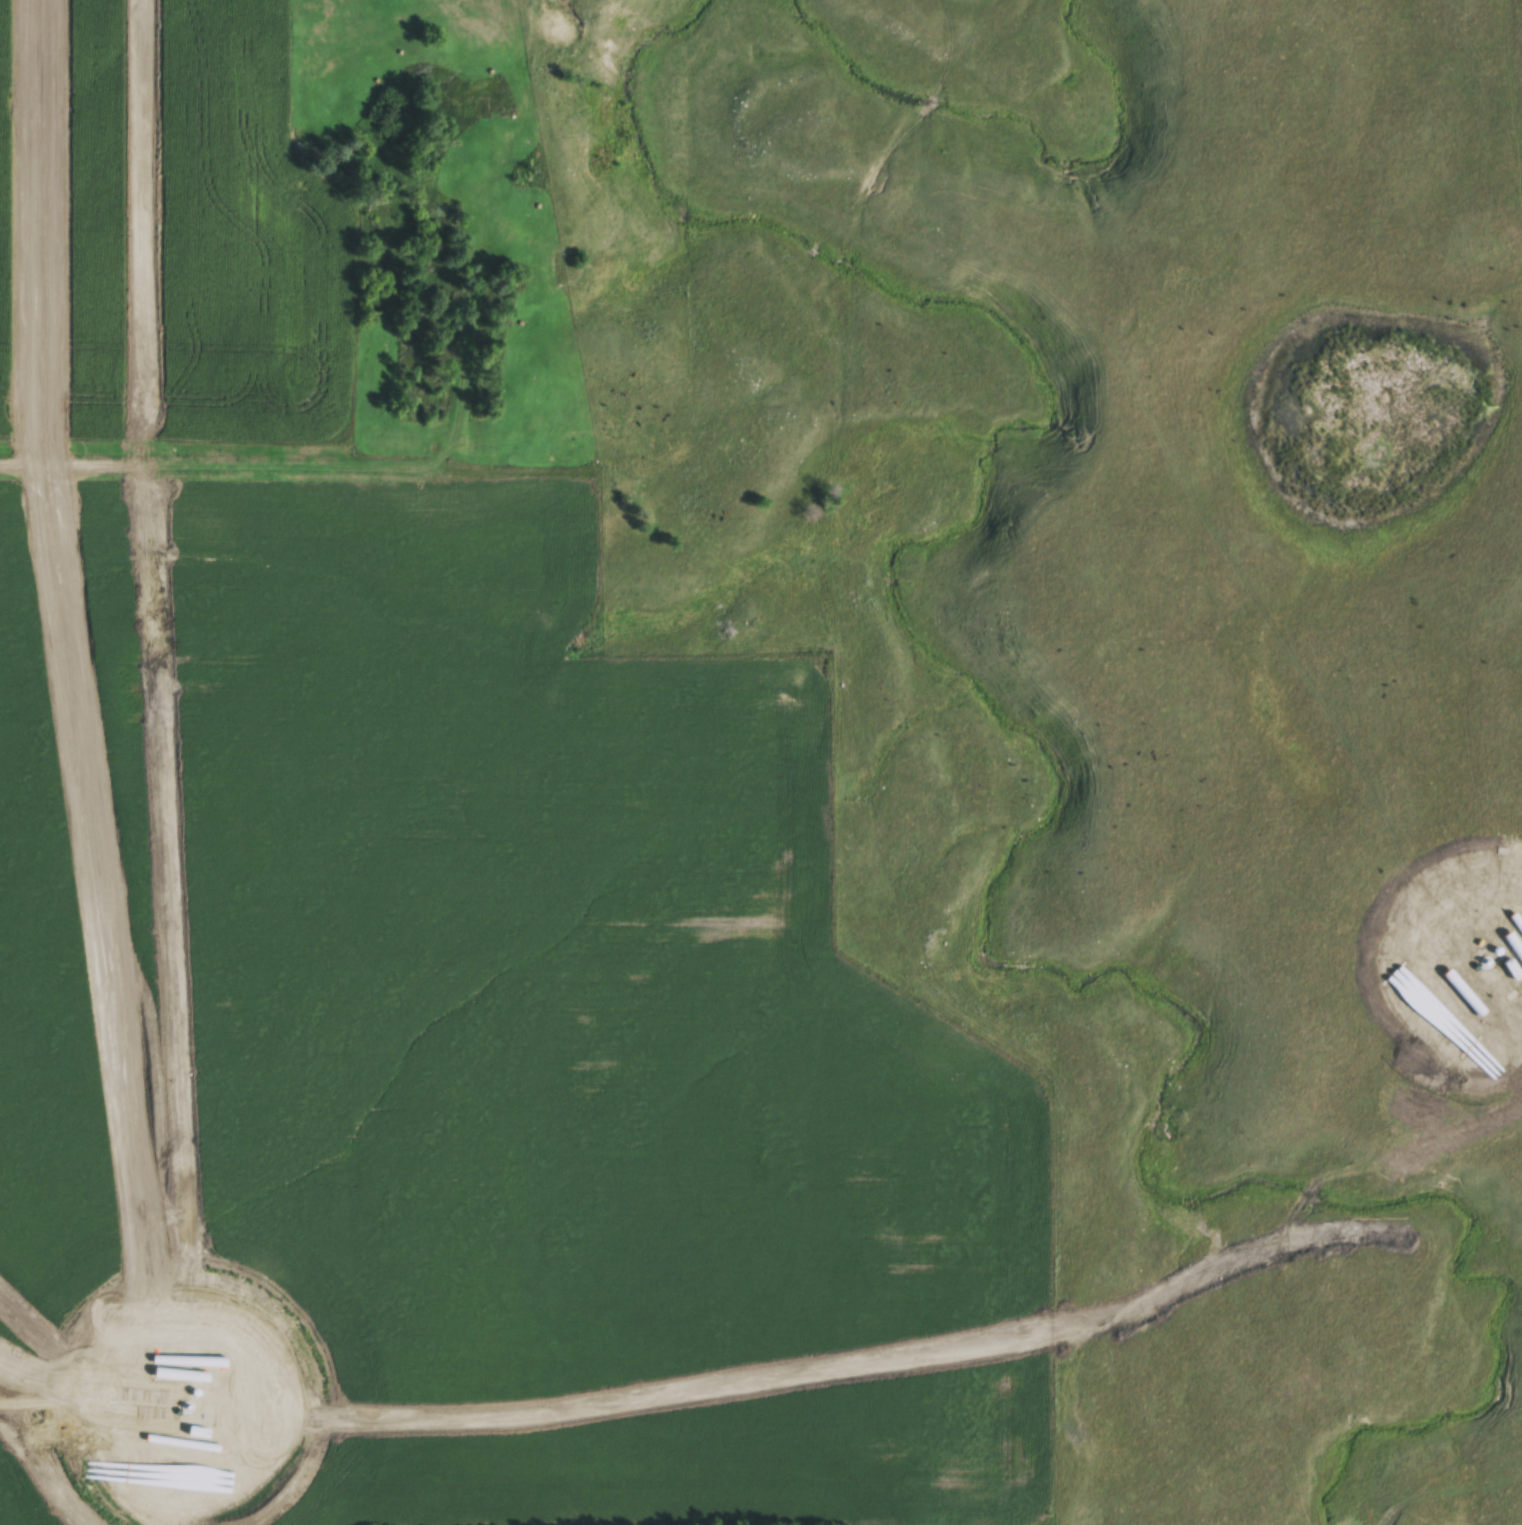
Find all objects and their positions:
road: (334, 460)
wind turbine: (1490, 961)
wind turbine: (181, 1407)

